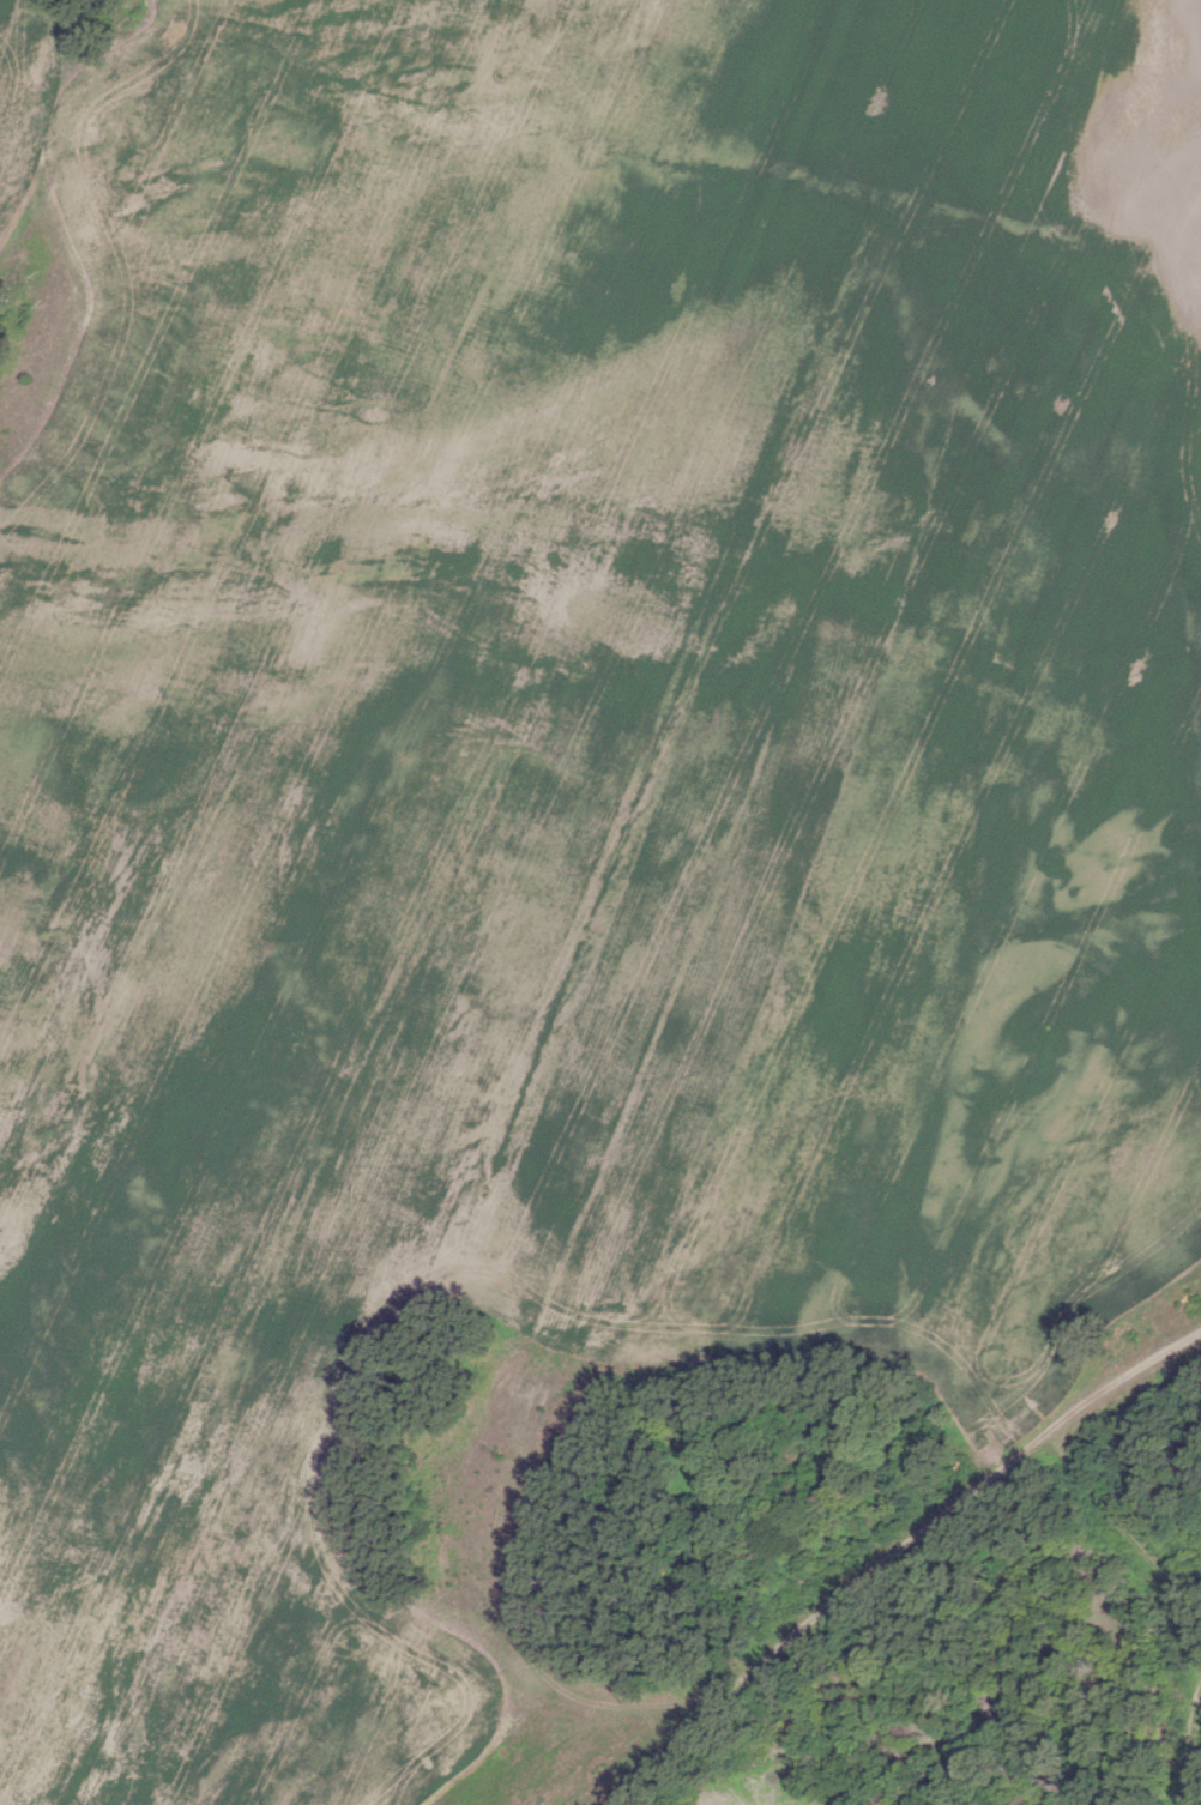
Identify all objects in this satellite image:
crop: (22, 82)
crop: (572, 796)
road: (935, 1520)
road: (1129, 1531)
road: (1194, 1734)
road: (716, 1768)
road: (650, 1769)

